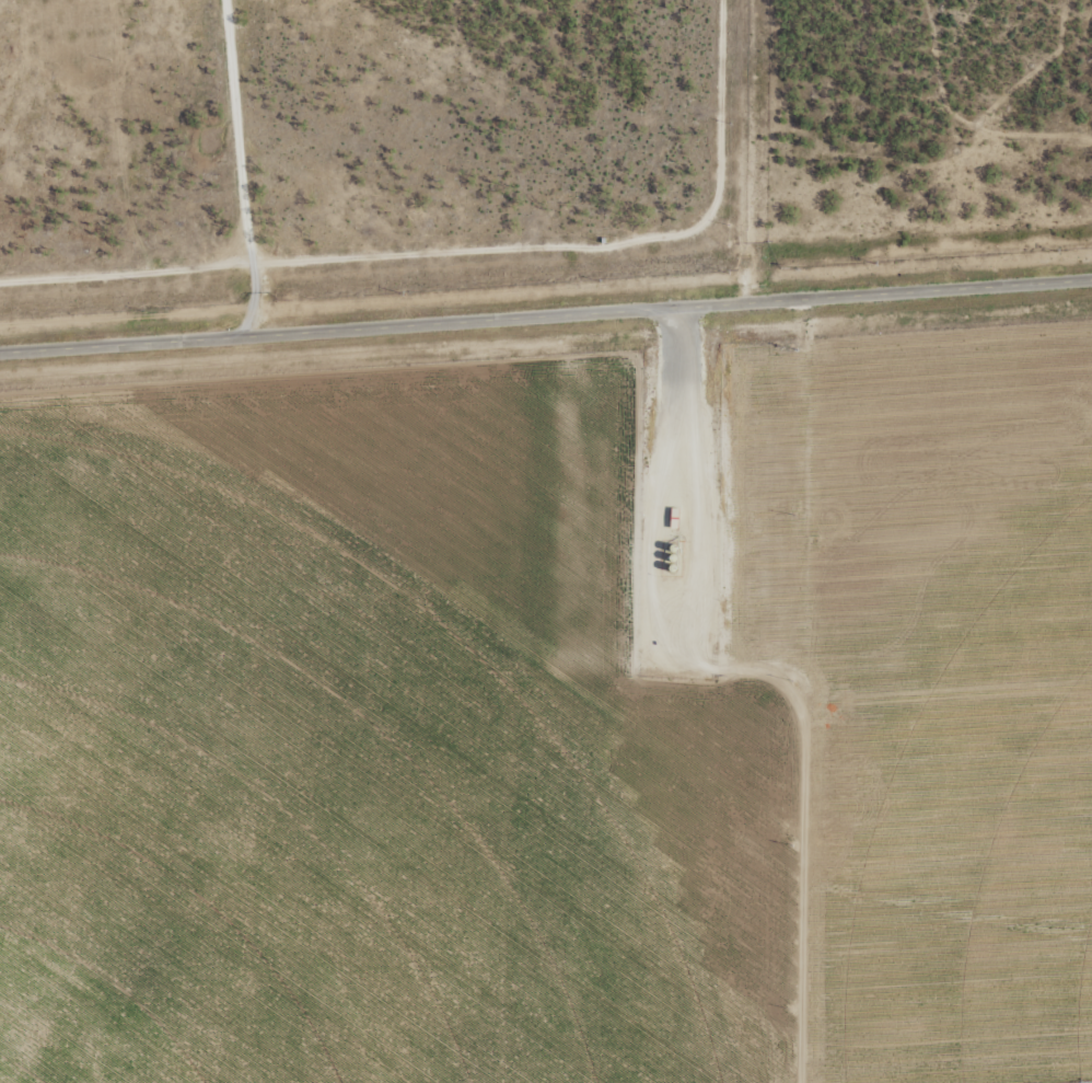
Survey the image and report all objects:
road: (242, 172)
railway: (546, 292)
road: (546, 325)
road: (802, 534)

